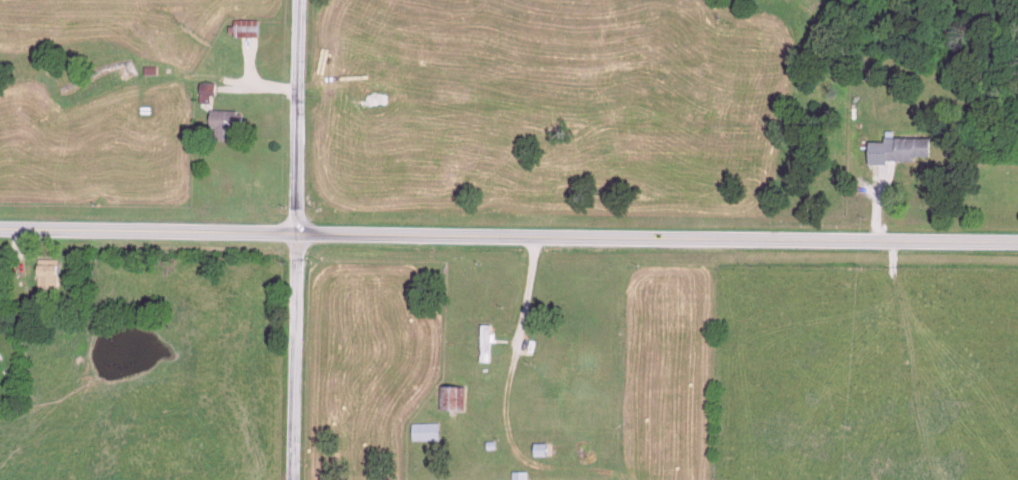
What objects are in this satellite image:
building: (246, 41)
building: (204, 95)
building: (221, 127)
building: (676, 143)
building: (903, 150)
road: (509, 237)
road: (293, 239)
building: (44, 278)
building: (482, 342)
building: (449, 398)
building: (422, 432)
building: (538, 450)
building: (517, 475)

